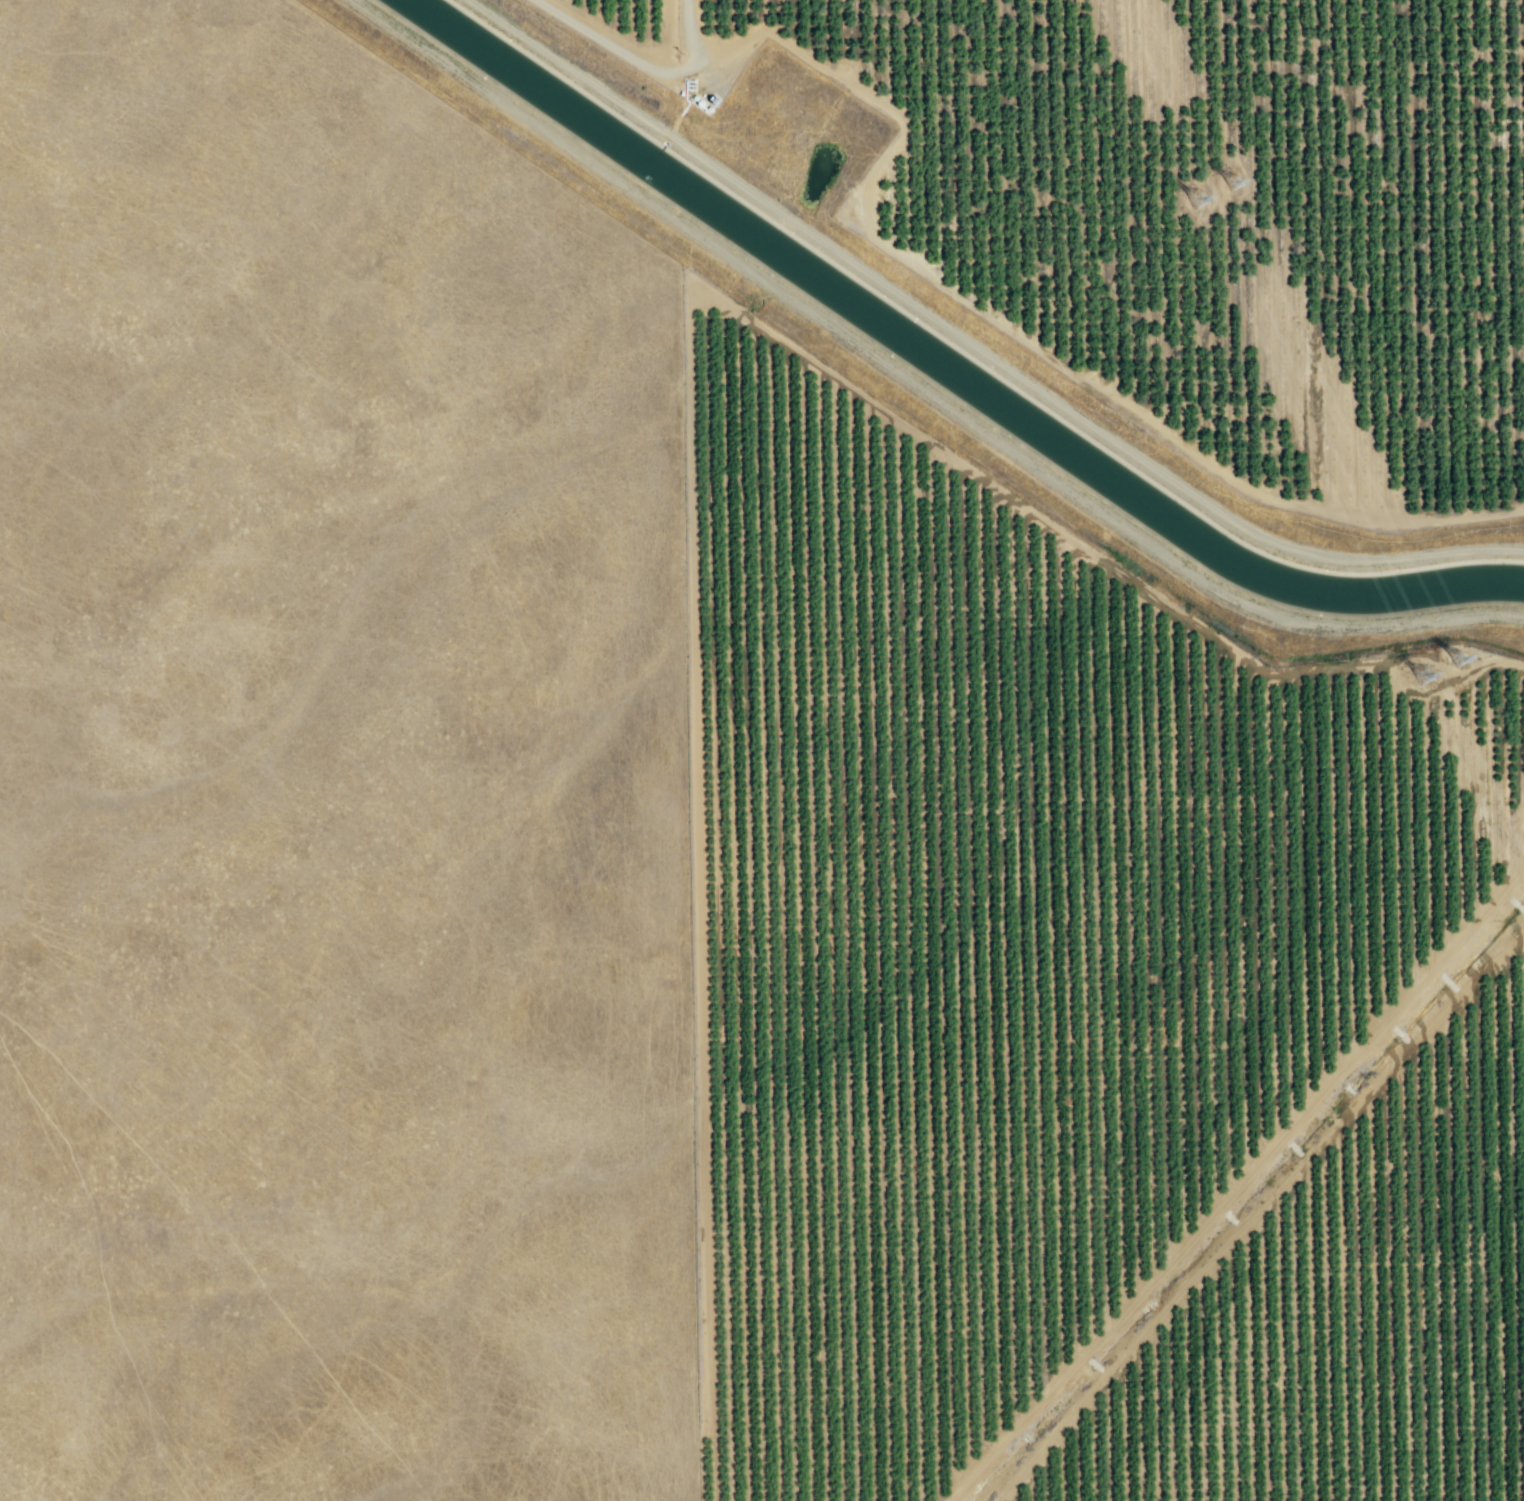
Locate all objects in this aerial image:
road: (687, 33)
power tower: (1234, 182)
power tower: (1198, 198)
road: (950, 289)
power tower: (1458, 660)
power tower: (1424, 676)
road: (1256, 1212)

